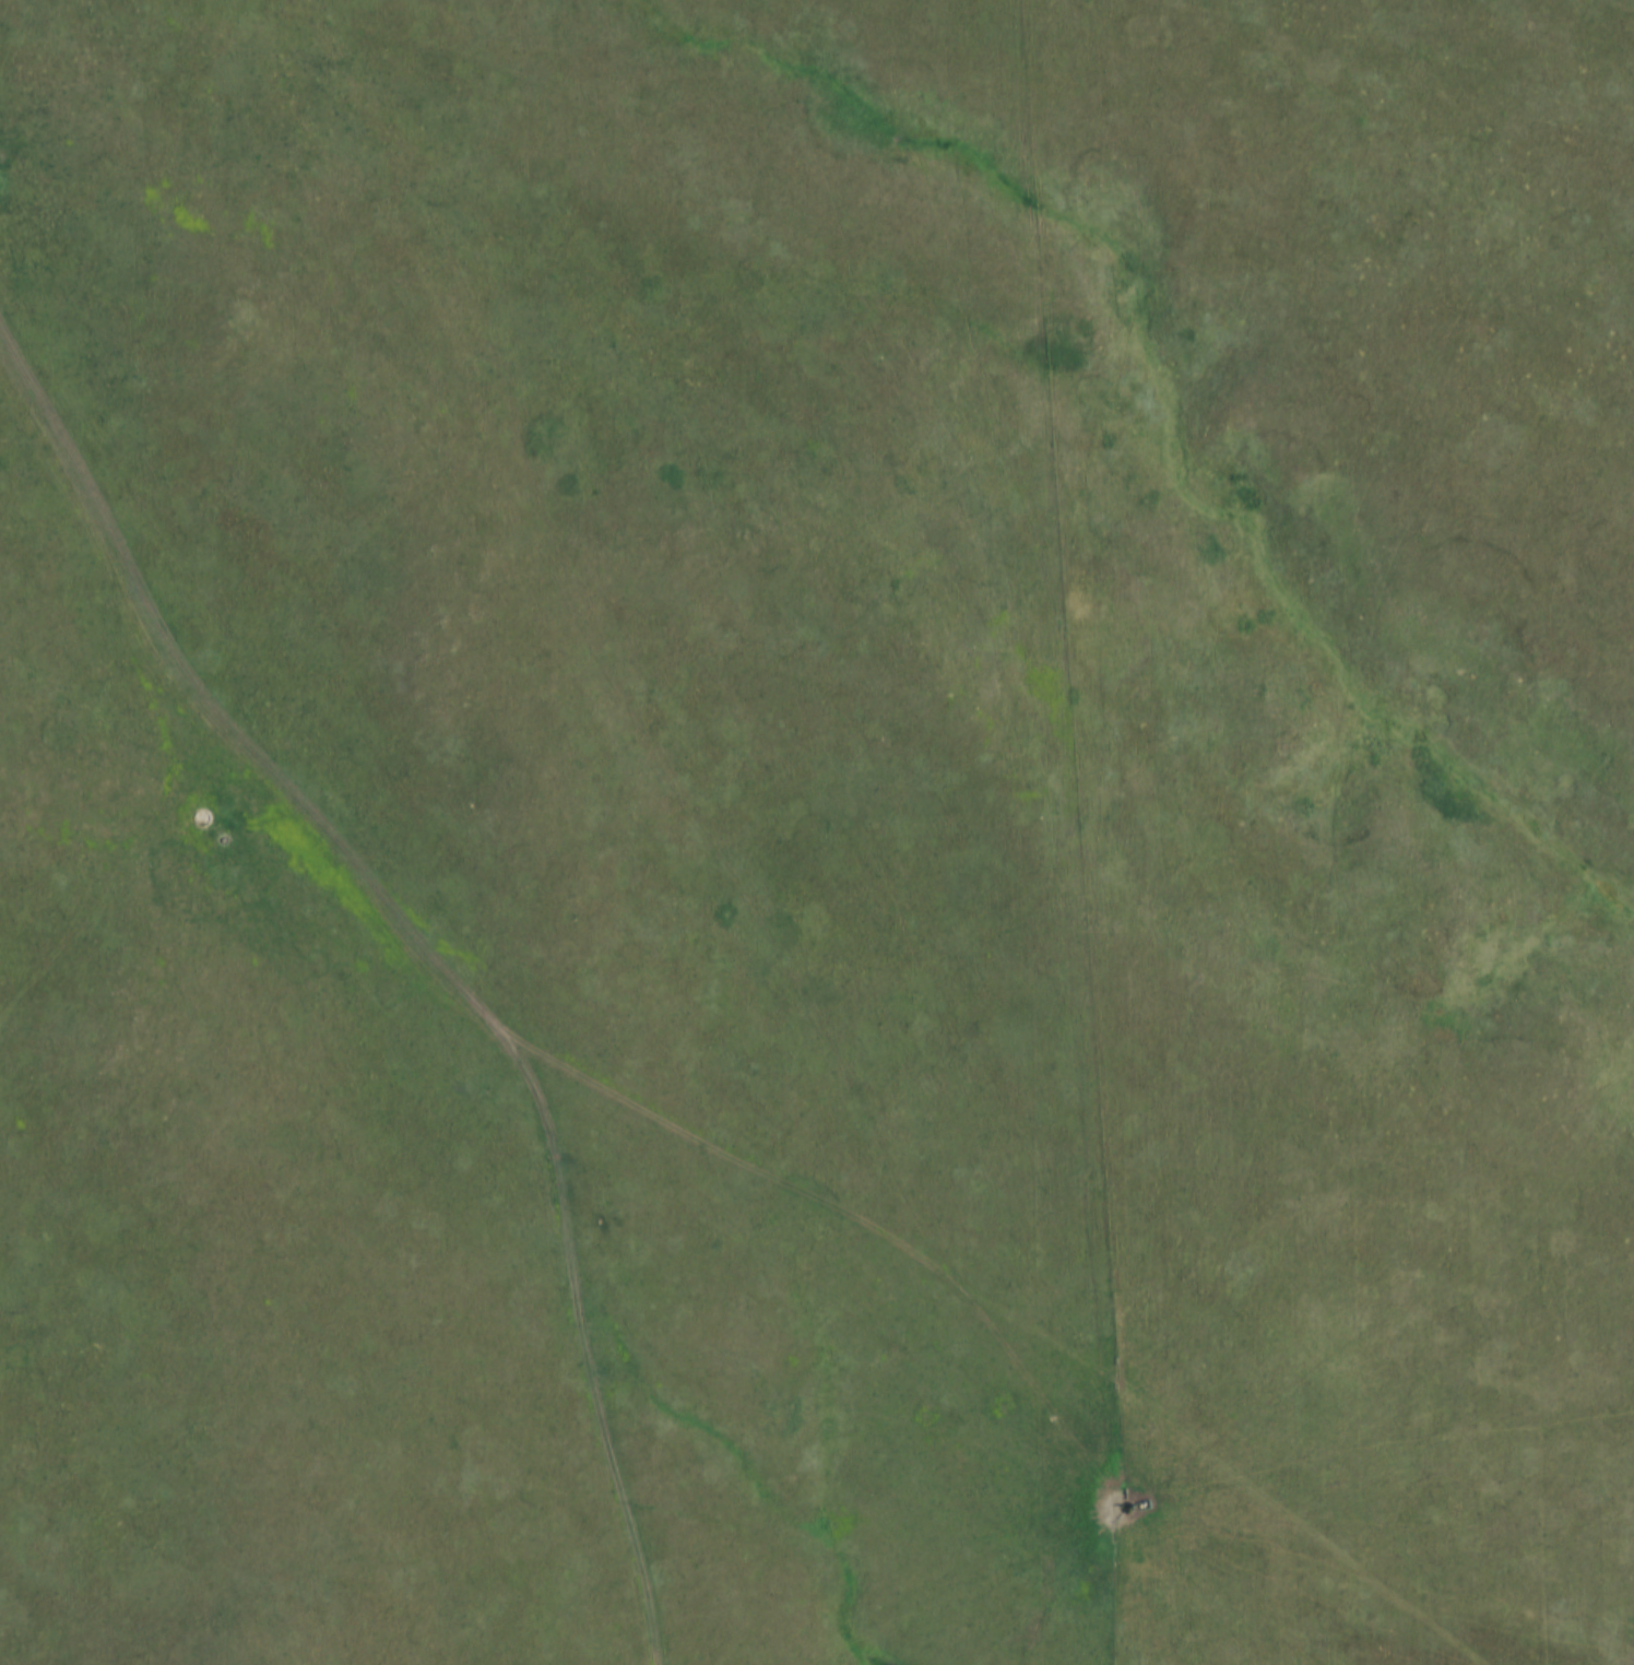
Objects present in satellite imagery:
road: (428, 967)

